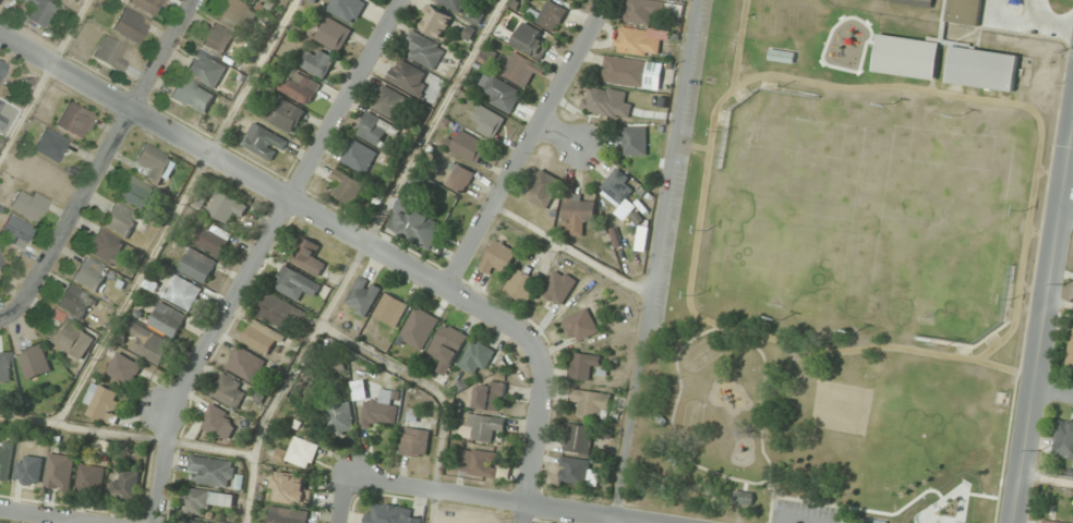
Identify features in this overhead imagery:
building: (883, 0)
building: (258, 1)
building: (918, 2)
building: (455, 4)
building: (145, 5)
building: (347, 9)
building: (651, 10)
building: (37, 11)
building: (966, 11)
building: (237, 12)
building: (552, 15)
road: (1050, 19)
building: (436, 22)
building: (129, 26)
building: (334, 35)
building: (217, 39)
building: (531, 40)
building: (641, 40)
building: (424, 50)
building: (109, 54)
building: (782, 56)
building: (907, 57)
building: (318, 62)
building: (205, 69)
building: (984, 69)
building: (2, 70)
building: (521, 70)
building: (632, 72)
building: (409, 77)
building: (301, 88)
building: (501, 93)
building: (192, 96)
building: (606, 101)
building: (391, 104)
building: (287, 115)
building: (74, 121)
building: (486, 121)
building: (374, 129)
road: (559, 132)
building: (635, 141)
building: (264, 142)
road: (526, 144)
building: (50, 145)
building: (467, 146)
building: (359, 156)
road: (98, 160)
building: (153, 163)
building: (460, 178)
road: (258, 182)
building: (347, 186)
building: (618, 186)
building: (543, 188)
building: (135, 193)
building: (28, 204)
building: (227, 207)
building: (578, 207)
road: (701, 209)
road: (1065, 216)
building: (120, 220)
building: (415, 224)
building: (14, 232)
building: (213, 239)
building: (107, 248)
road: (256, 254)
building: (310, 257)
building: (499, 257)
building: (1, 264)
building: (198, 265)
building: (89, 275)
building: (296, 283)
building: (523, 283)
building: (179, 290)
building: (363, 295)
park: (836, 295)
building: (75, 302)
building: (277, 311)
building: (391, 311)
building: (168, 319)
road: (5, 323)
road: (720, 324)
road: (1044, 324)
building: (580, 326)
building: (420, 328)
road: (710, 329)
building: (262, 338)
building: (73, 339)
building: (149, 343)
building: (448, 346)
building: (1071, 349)
building: (478, 357)
building: (34, 360)
road: (985, 362)
building: (245, 364)
building: (583, 364)
building: (5, 367)
building: (124, 369)
building: (229, 391)
building: (490, 397)
road: (1053, 398)
building: (103, 402)
building: (592, 403)
building: (382, 410)
building: (341, 417)
building: (219, 422)
road: (535, 423)
building: (489, 426)
building: (580, 439)
building: (1063, 439)
building: (415, 442)
building: (300, 452)
building: (7, 461)
building: (483, 463)
building: (31, 470)
building: (574, 470)
building: (213, 471)
building: (61, 472)
building: (92, 478)
building: (126, 486)
building: (289, 488)
building: (743, 497)
road: (343, 499)
building: (207, 500)
road: (491, 500)
parking lot: (805, 512)
building: (390, 514)
building: (287, 515)
road: (34, 519)
road: (796, 520)
building: (201, 521)
building: (873, 521)
building: (1050, 521)

